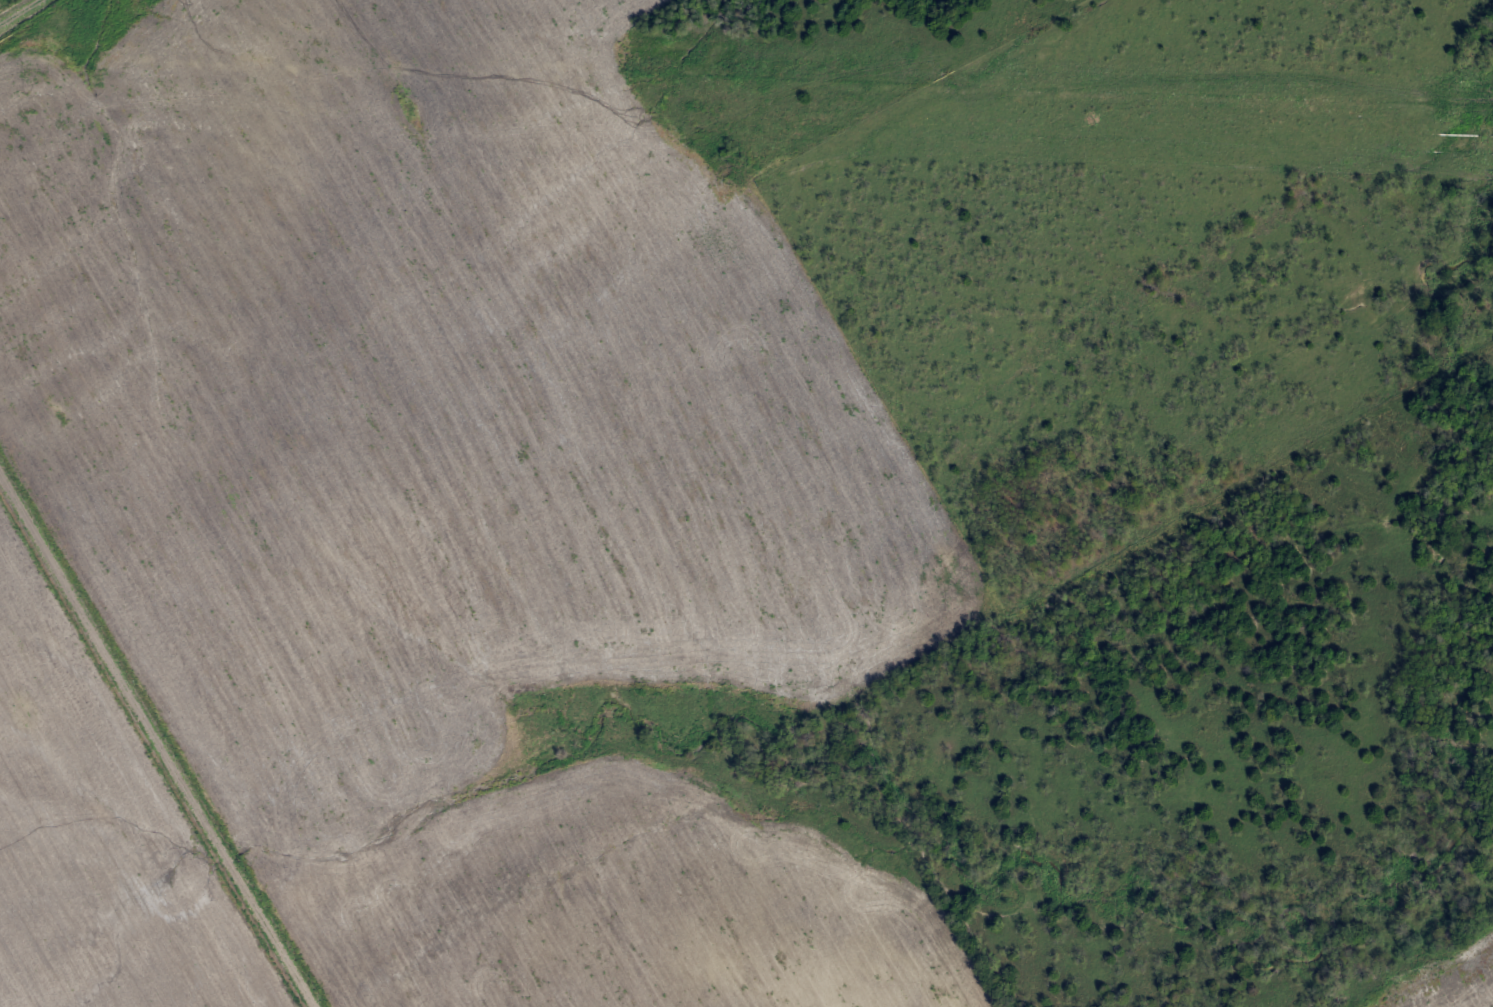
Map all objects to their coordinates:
road: (22, 13)
road: (157, 744)

